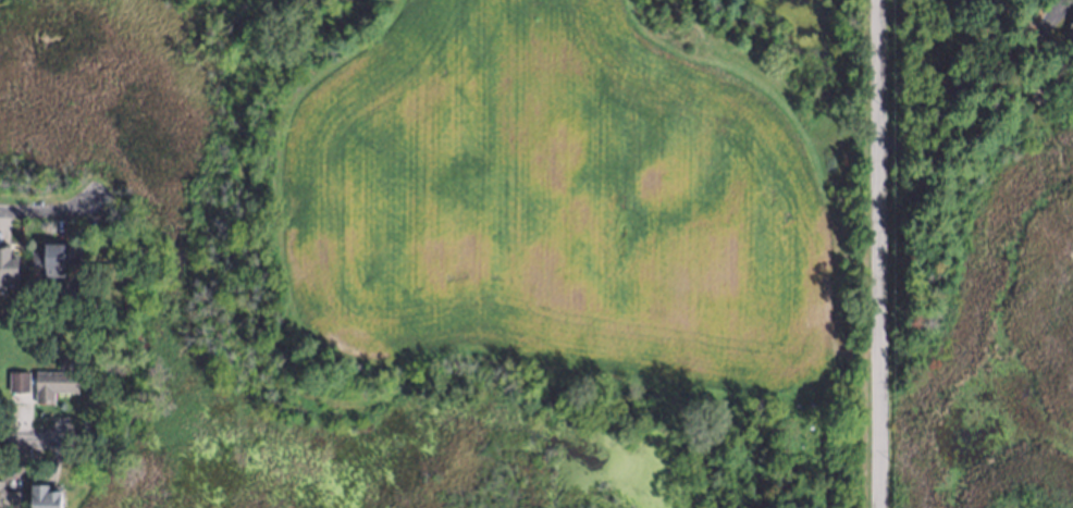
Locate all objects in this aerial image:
road: (969, 80)
road: (39, 211)
road: (868, 253)
building: (53, 256)
building: (7, 264)
building: (53, 288)
building: (69, 305)
building: (17, 382)
building: (52, 383)
road: (21, 438)
building: (8, 493)
building: (44, 495)

